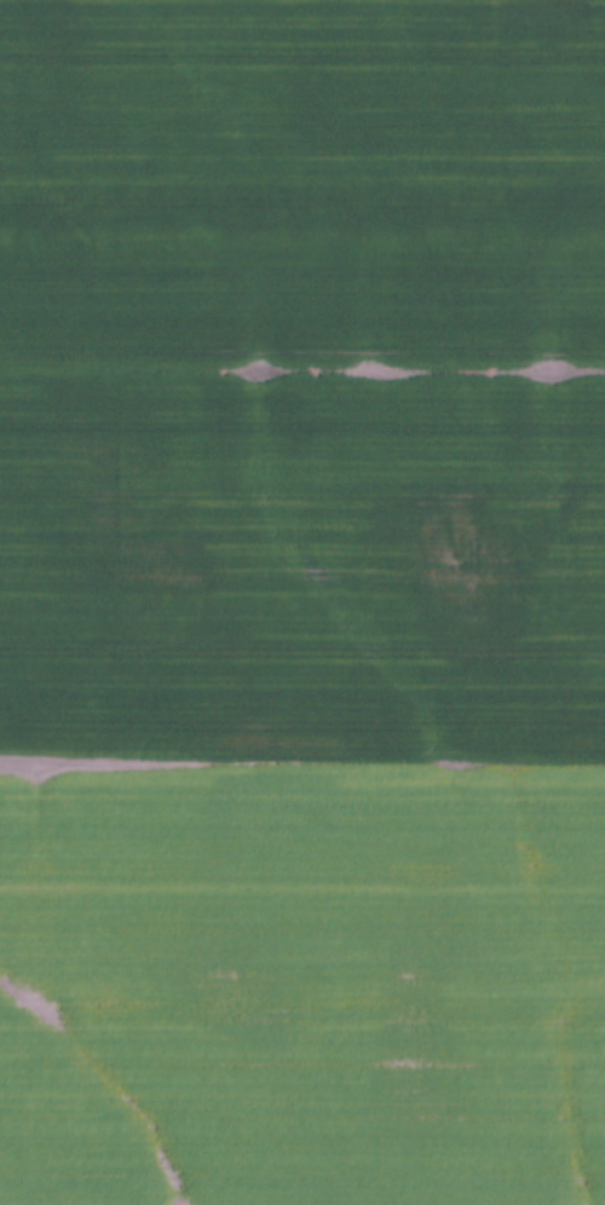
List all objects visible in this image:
crop: (302, 602)

